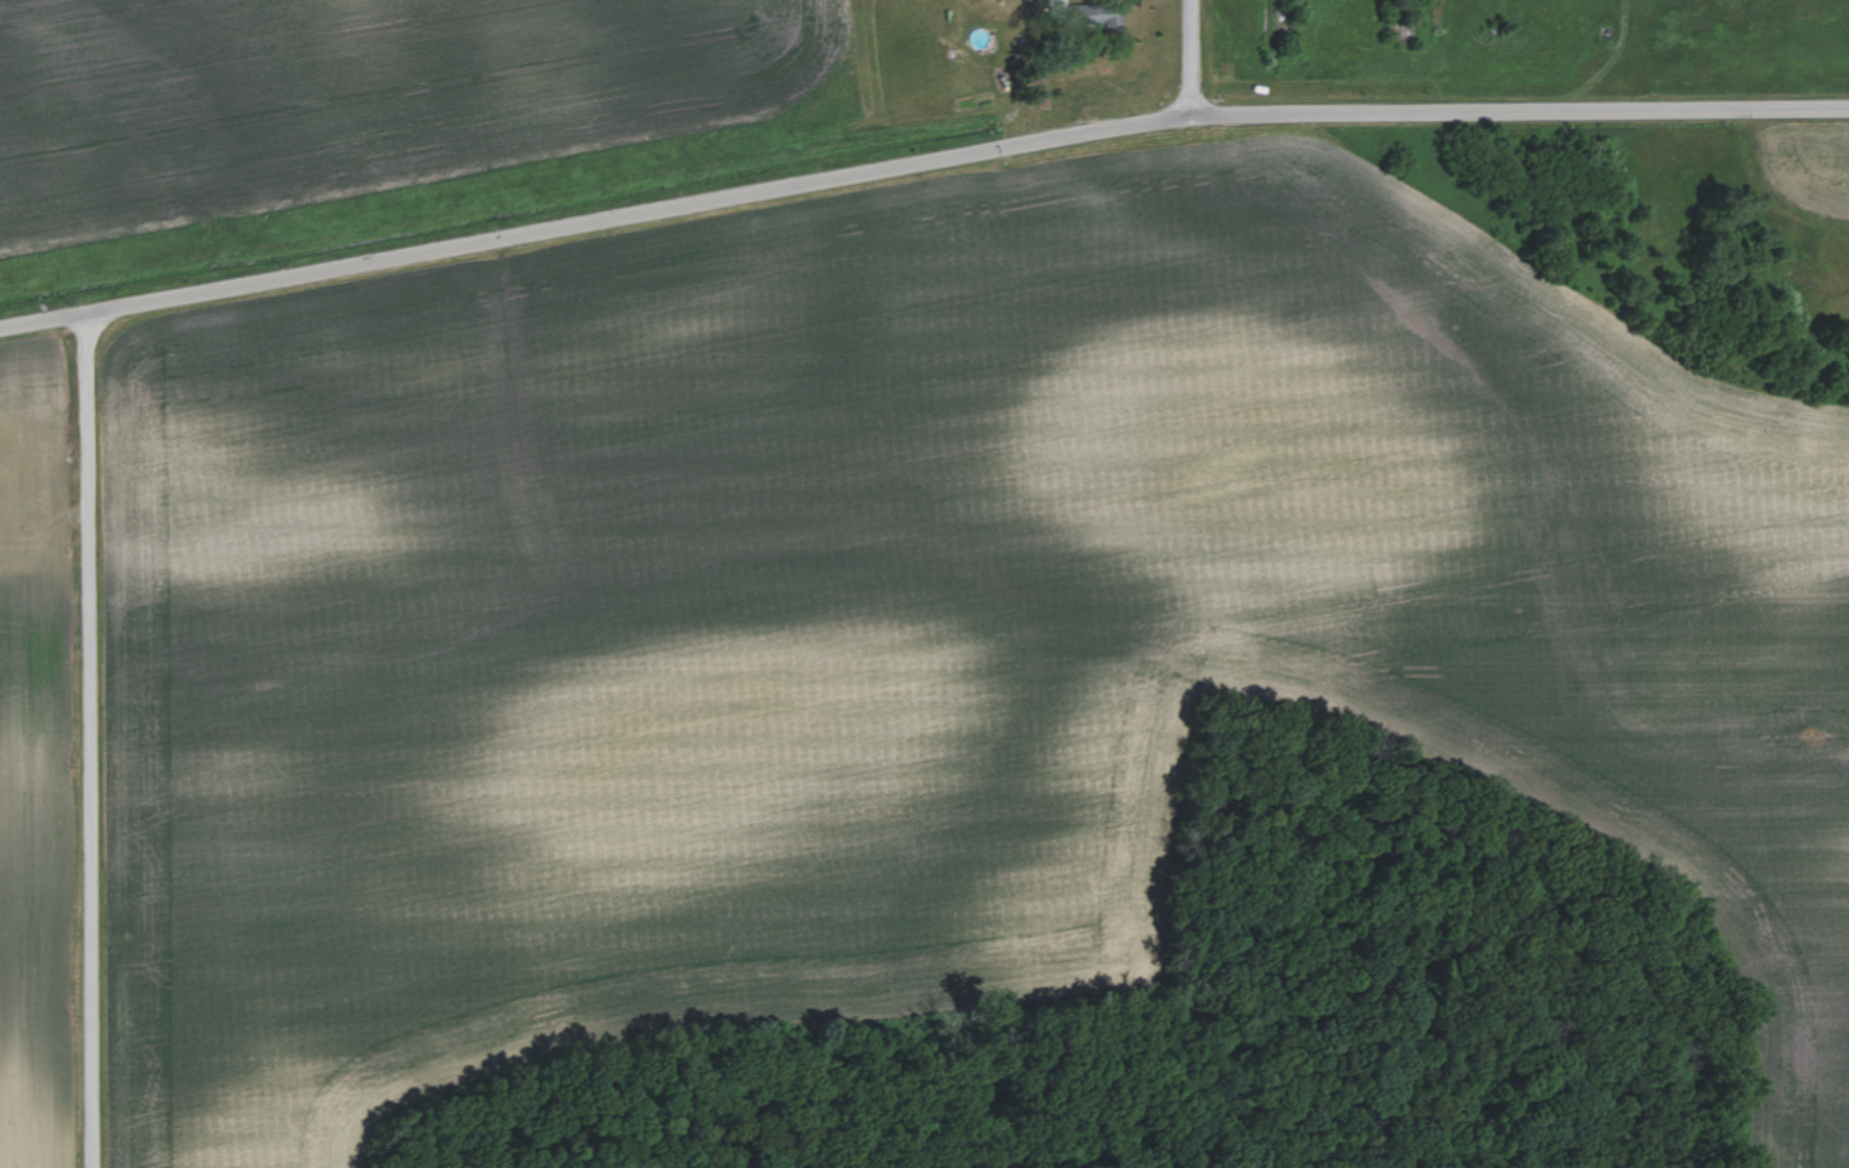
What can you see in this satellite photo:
road: (1190, 54)
road: (919, 158)
road: (86, 740)

